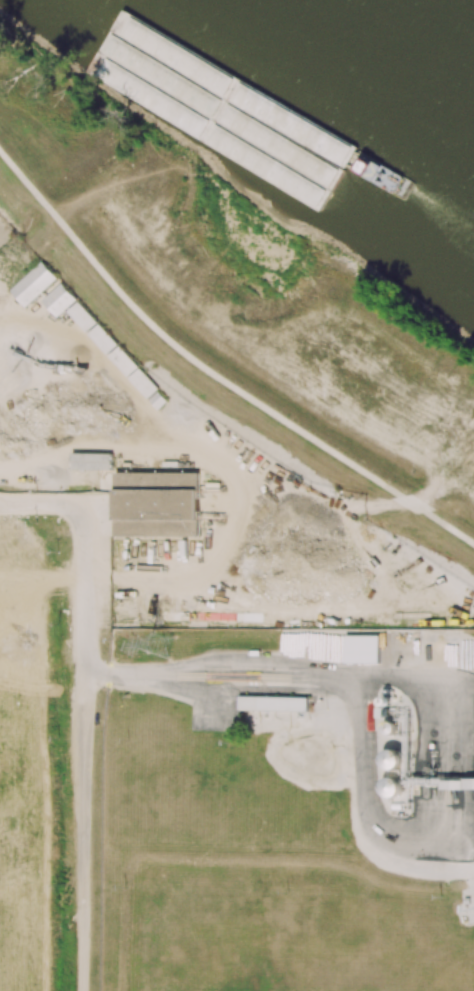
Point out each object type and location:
river: (421, 39)
building: (32, 283)
building: (58, 299)
building: (81, 316)
building: (101, 338)
road: (177, 345)
building: (133, 372)
building: (91, 460)
road: (225, 467)
road: (44, 503)
building: (156, 503)
road: (413, 504)
road: (452, 528)
power tower: (159, 645)
building: (362, 648)
road: (317, 664)
building: (273, 703)
road: (85, 746)
road: (466, 782)
road: (377, 816)

